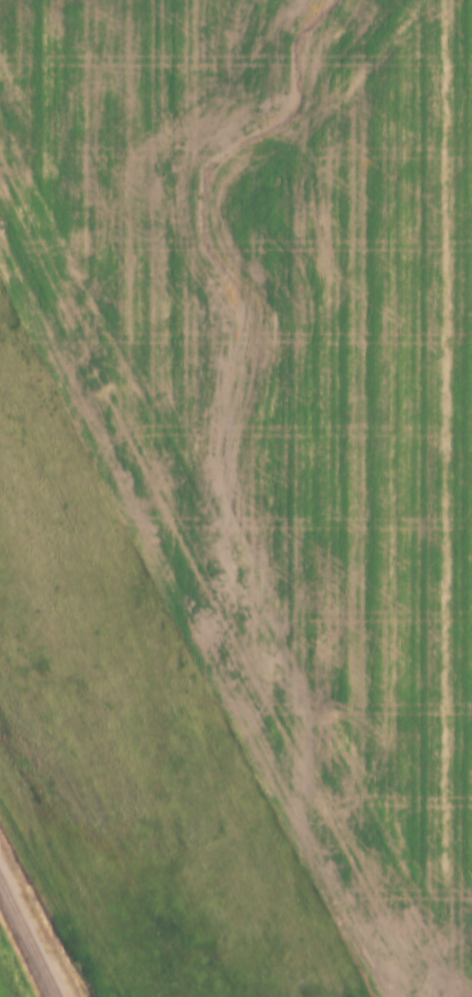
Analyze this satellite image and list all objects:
railway: (27, 941)

